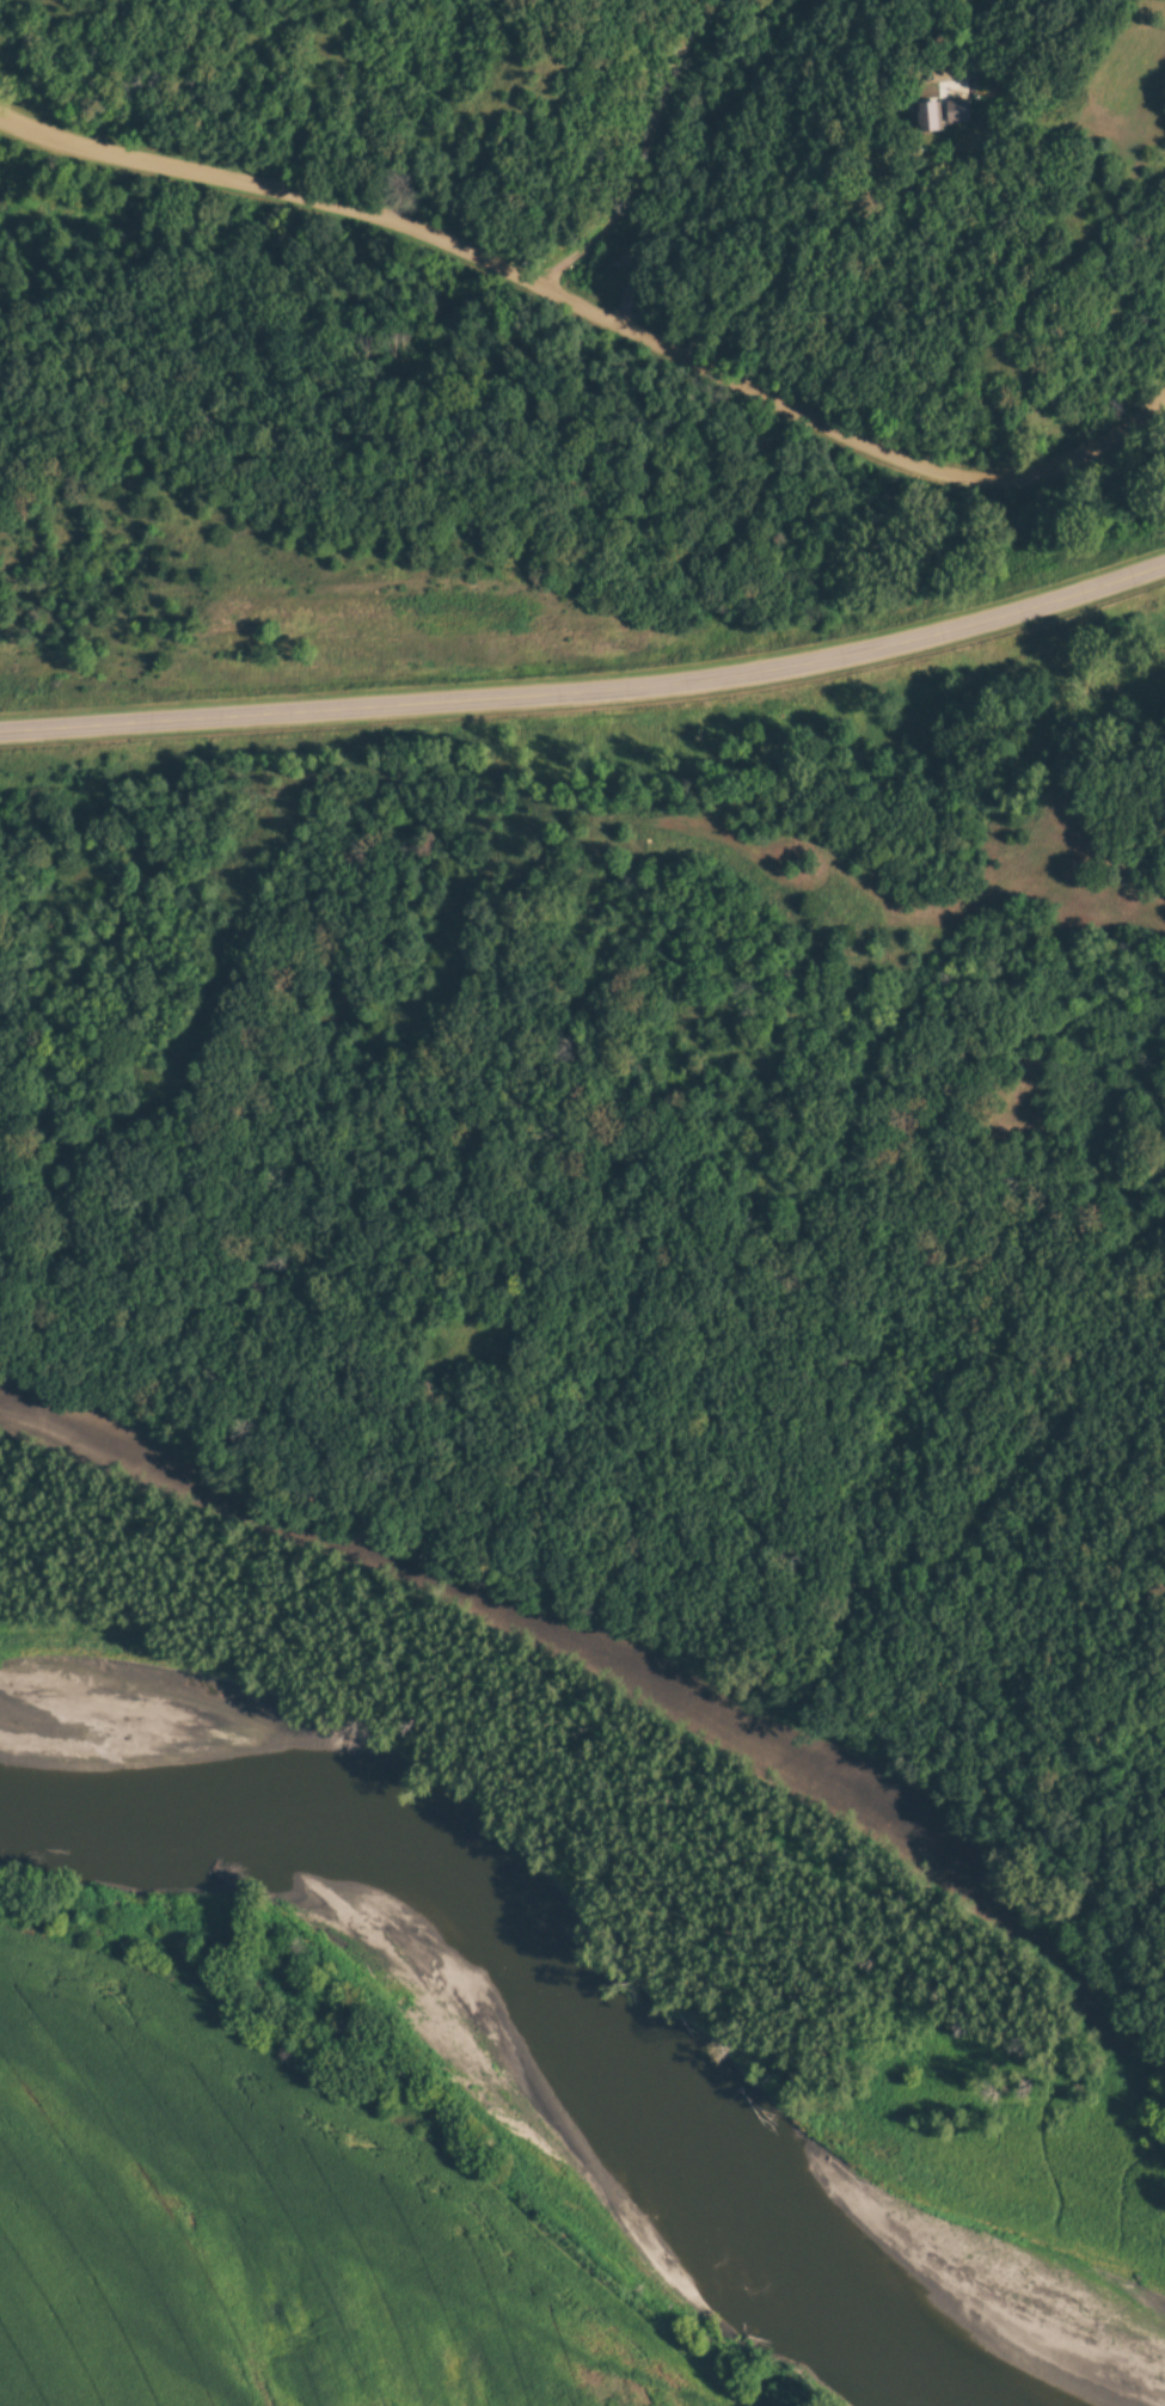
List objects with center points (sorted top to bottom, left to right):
building: (927, 116)
road: (639, 148)
road: (276, 186)
road: (852, 433)
road: (589, 692)
river: (547, 2076)

